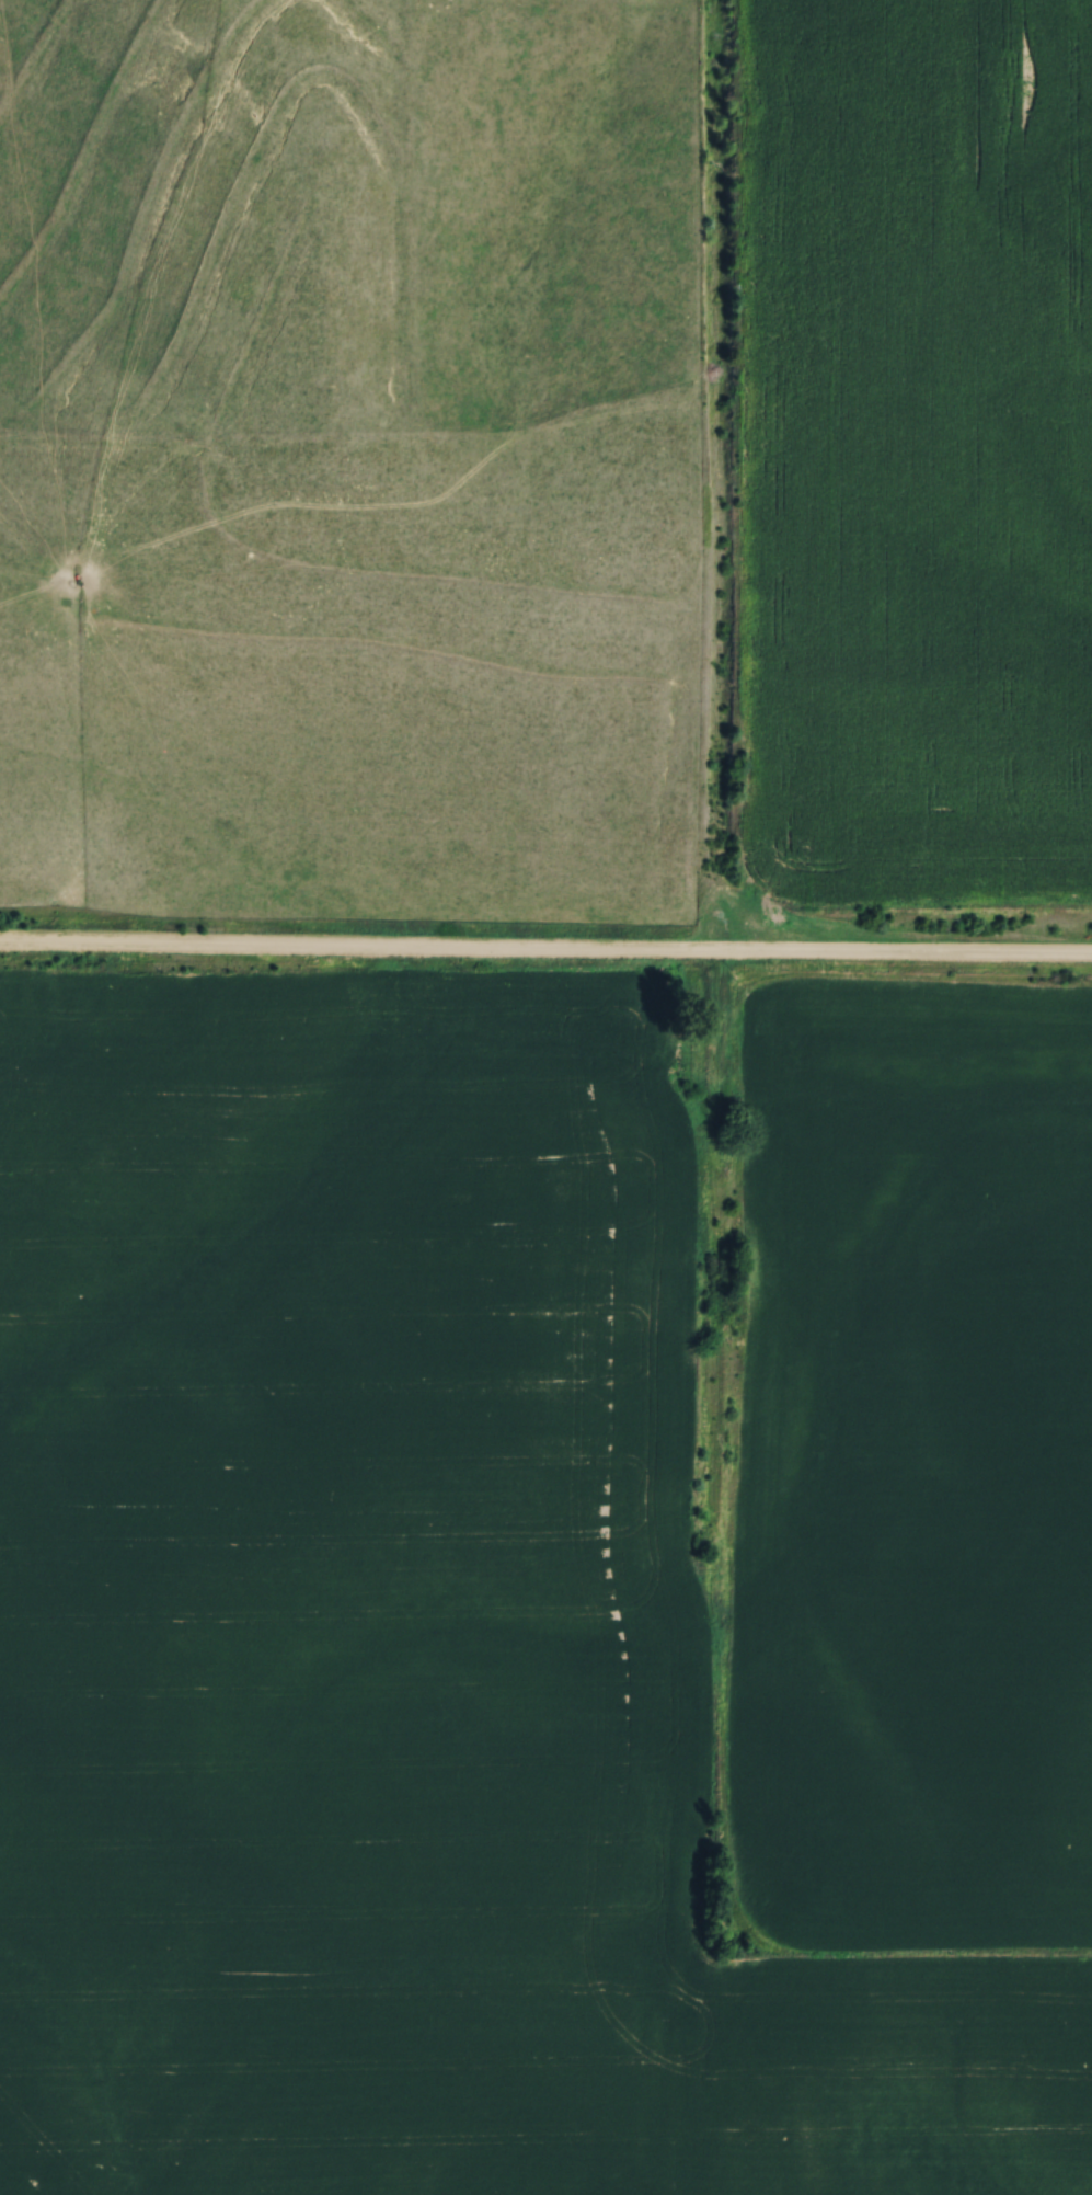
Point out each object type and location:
road: (717, 477)
road: (545, 949)

